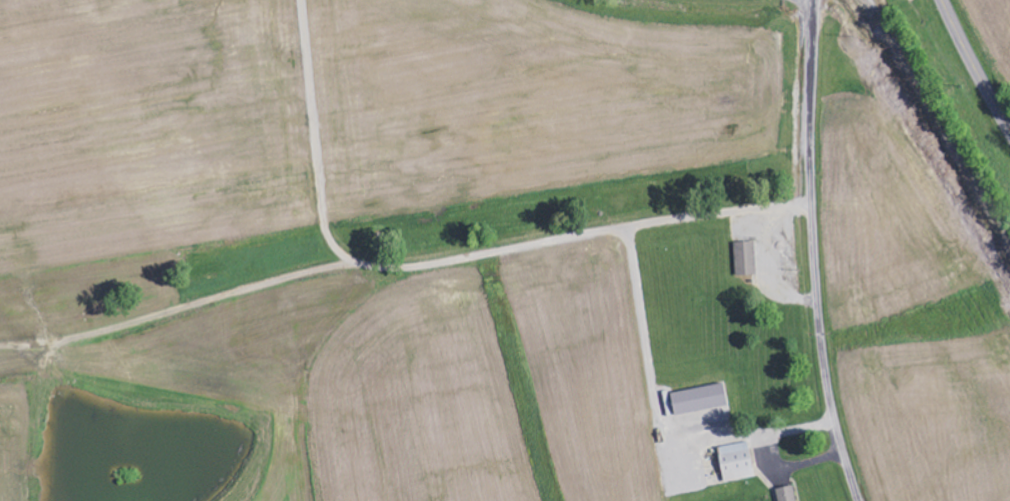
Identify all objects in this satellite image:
road: (975, 66)
road: (811, 74)
building: (746, 258)
road: (821, 326)
building: (699, 399)
building: (737, 461)
building: (787, 494)

